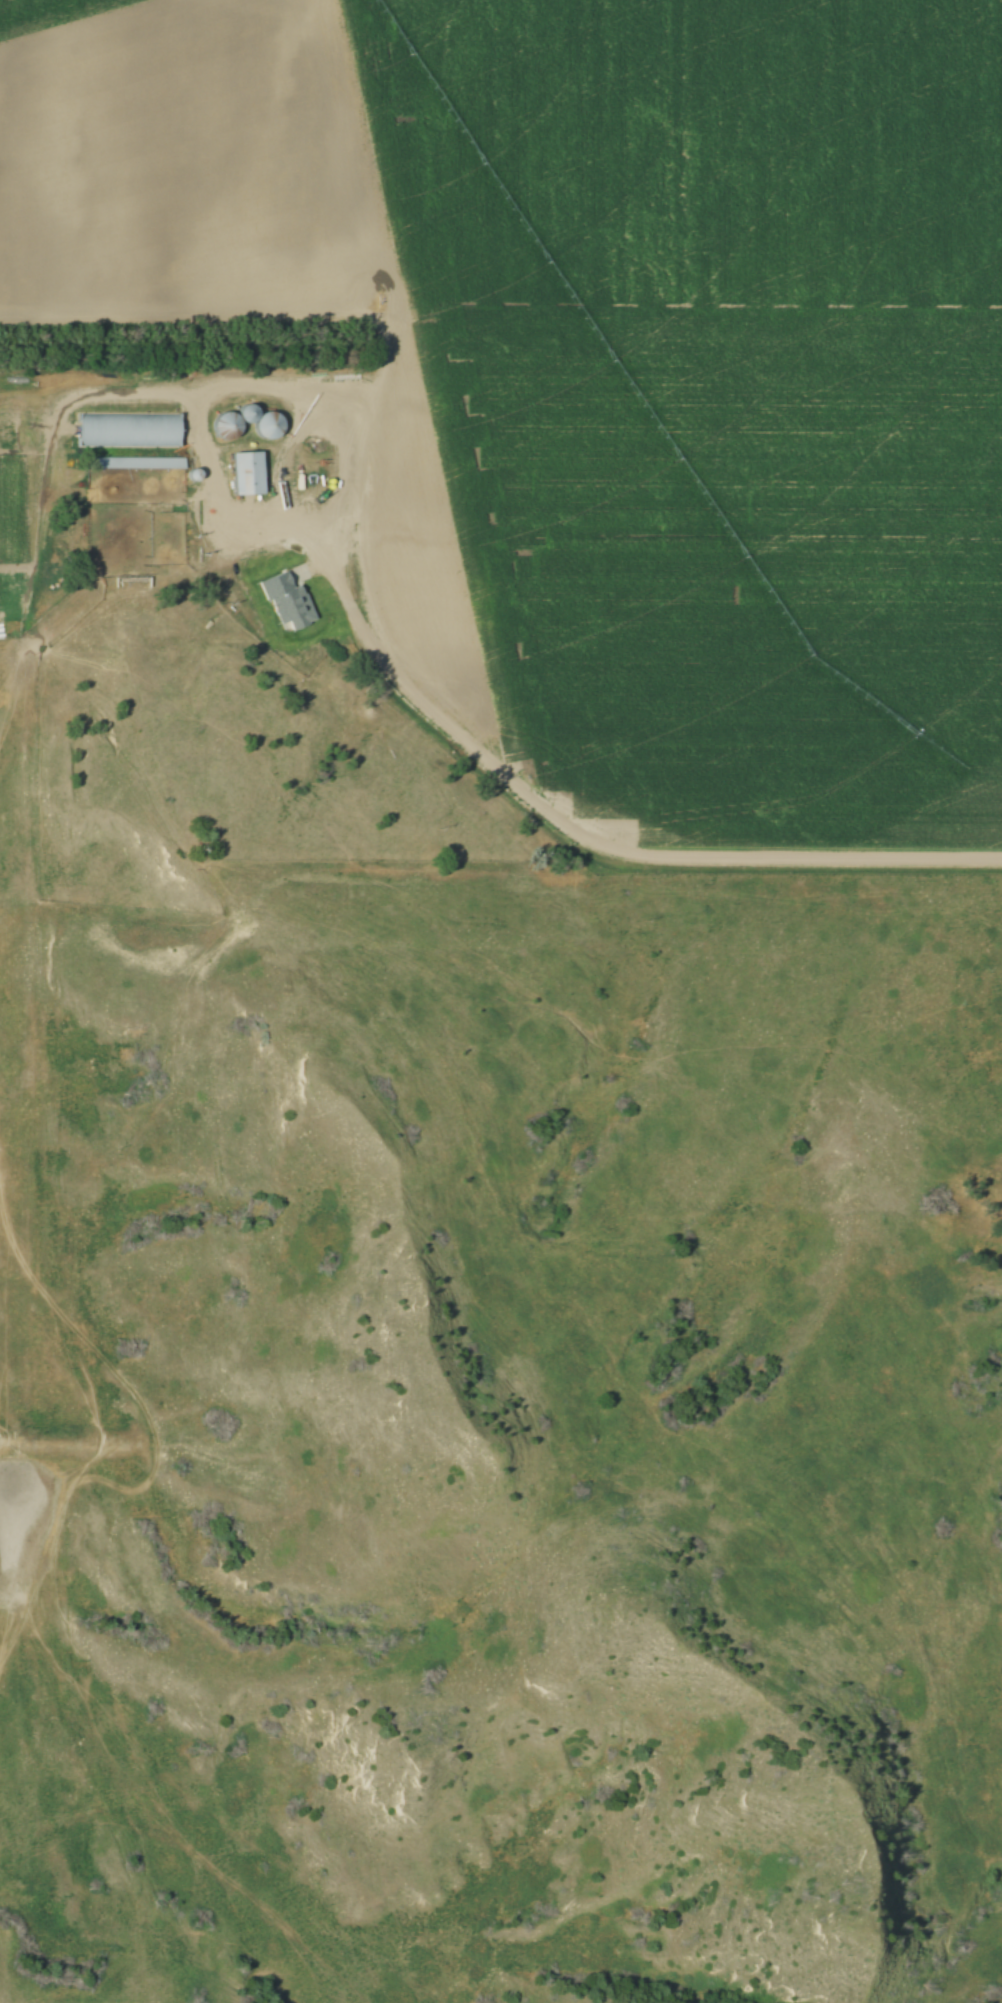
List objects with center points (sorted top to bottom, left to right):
road: (381, 340)
crop: (603, 357)
silo: (249, 411)
building: (261, 421)
silo: (226, 424)
silo: (270, 424)
building: (228, 425)
building: (127, 428)
building: (136, 461)
silo: (190, 473)
building: (250, 473)
road: (234, 522)
building: (131, 585)
building: (280, 599)
road: (820, 859)

